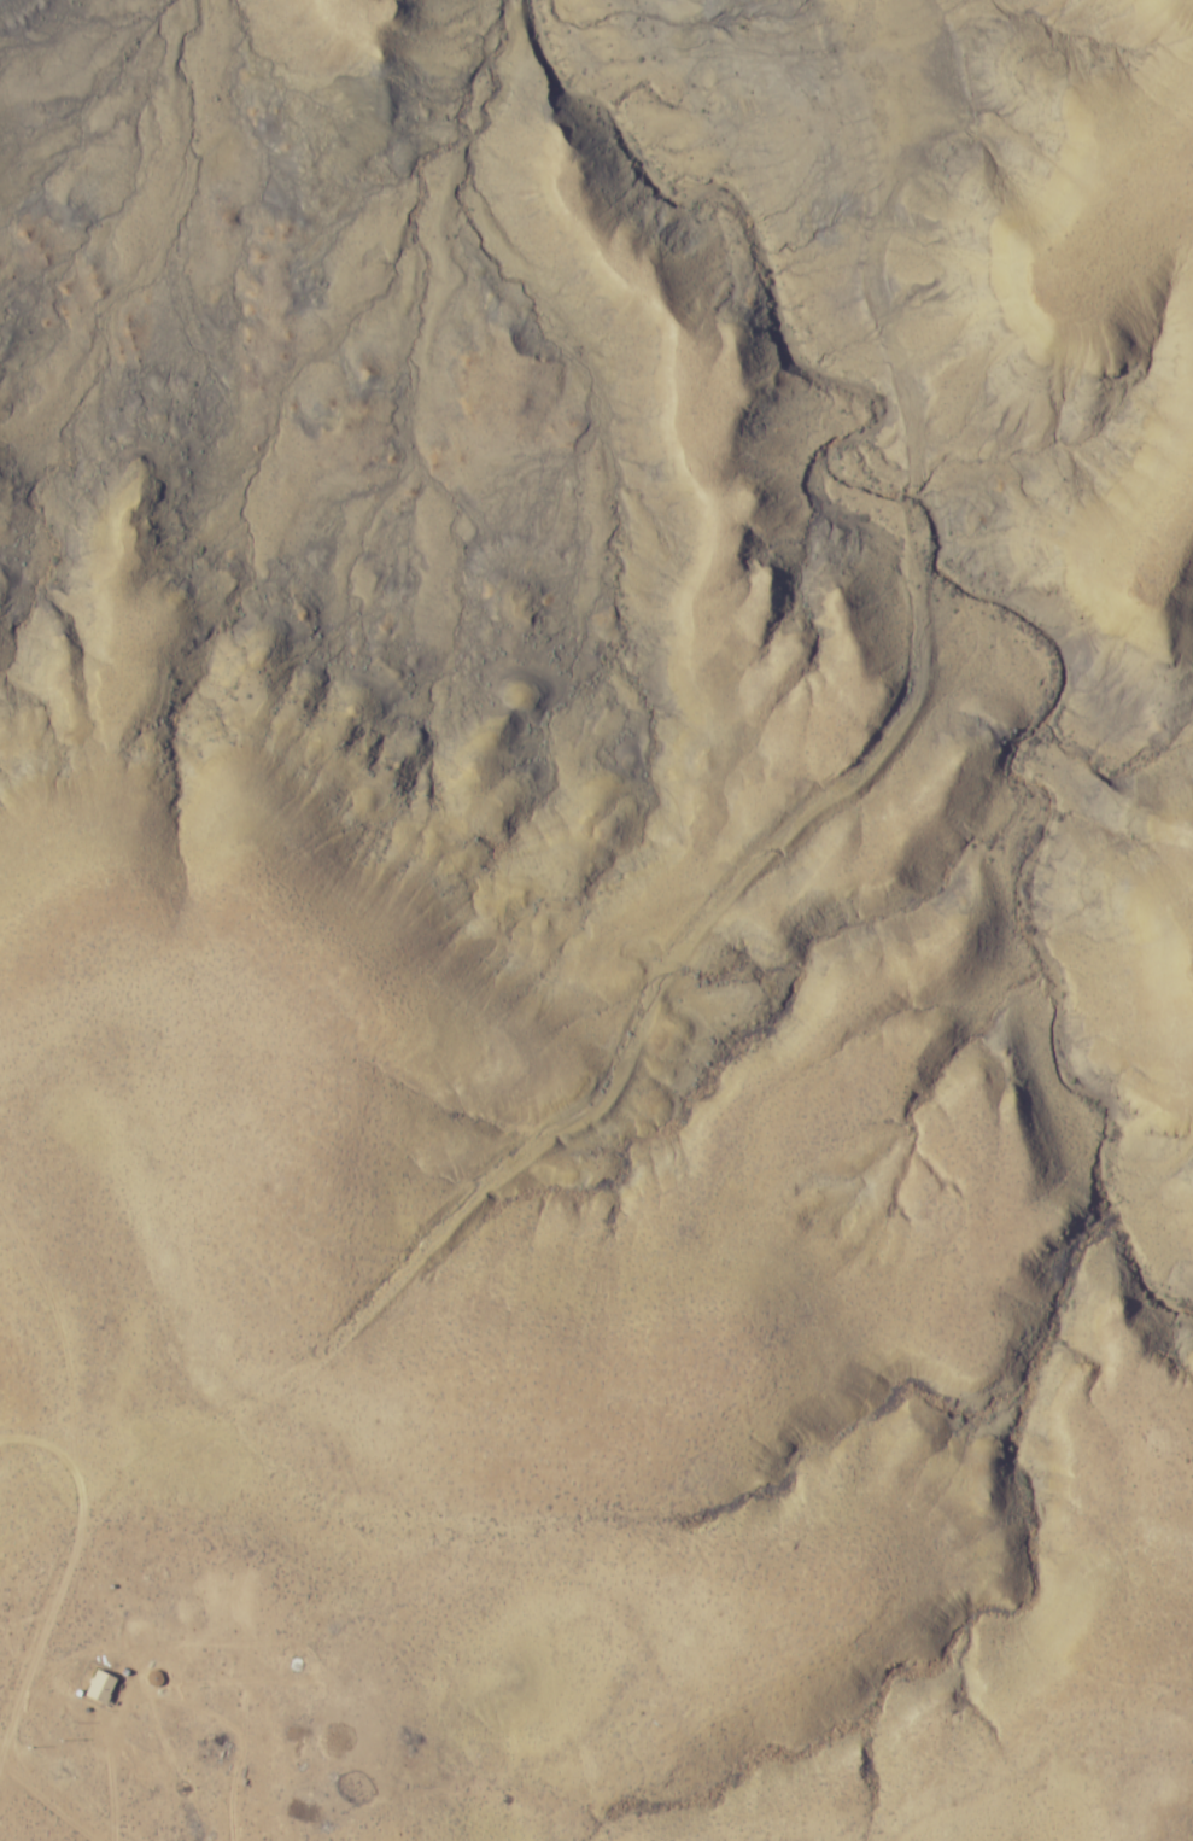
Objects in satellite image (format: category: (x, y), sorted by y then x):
road: (68, 1578)
building: (104, 1688)
road: (48, 1801)

